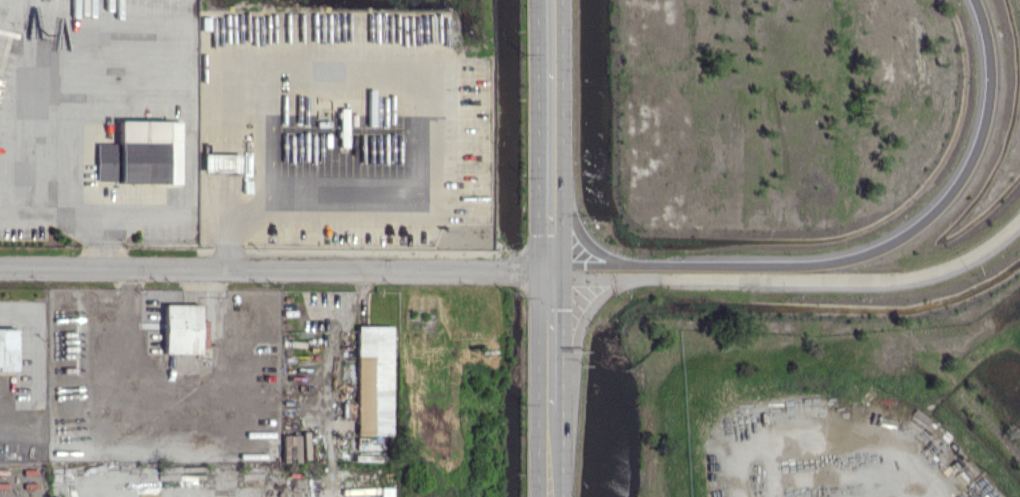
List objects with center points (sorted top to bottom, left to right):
road: (120, 93)
road: (551, 134)
building: (151, 151)
building: (222, 162)
road: (296, 205)
road: (580, 233)
road: (865, 256)
road: (275, 268)
traffic signals: (551, 270)
road: (792, 279)
building: (183, 328)
road: (578, 329)
road: (551, 337)
building: (8, 349)
road: (41, 363)
building: (373, 380)
road: (550, 450)
building: (385, 491)

